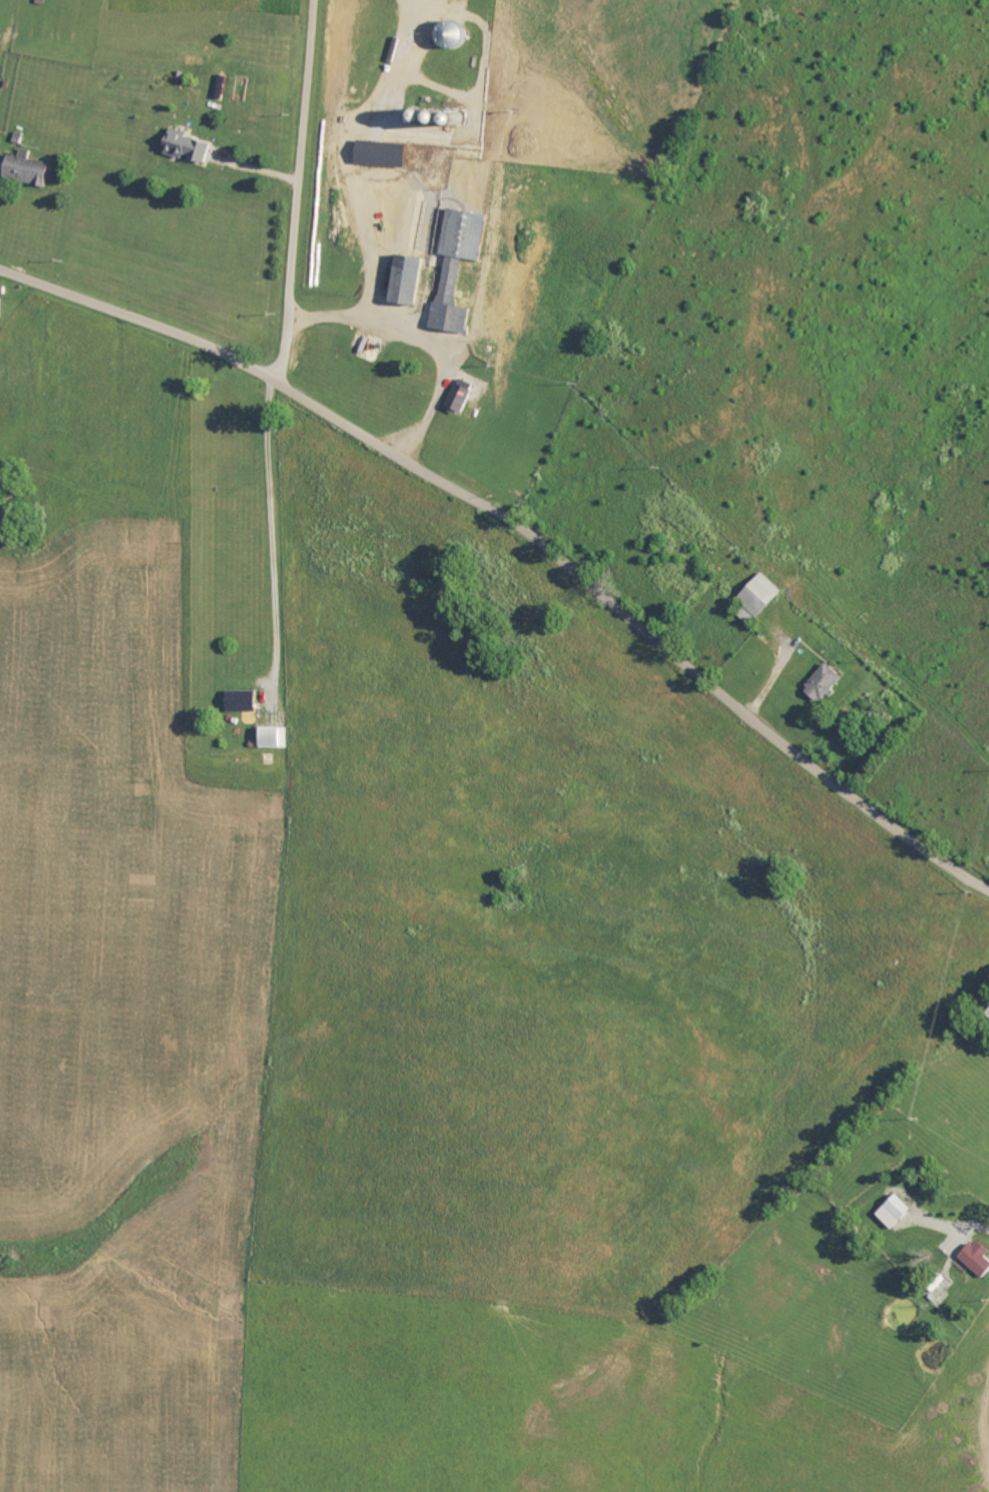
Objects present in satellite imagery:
building: (448, 35)
building: (184, 147)
building: (377, 154)
building: (31, 169)
road: (301, 190)
building: (454, 267)
building: (402, 281)
building: (2, 309)
road: (423, 339)
building: (459, 400)
road: (272, 522)
road: (523, 526)
building: (754, 596)
building: (820, 683)
building: (238, 701)
building: (270, 737)
building: (891, 1211)
building: (976, 1259)
road: (961, 1388)

